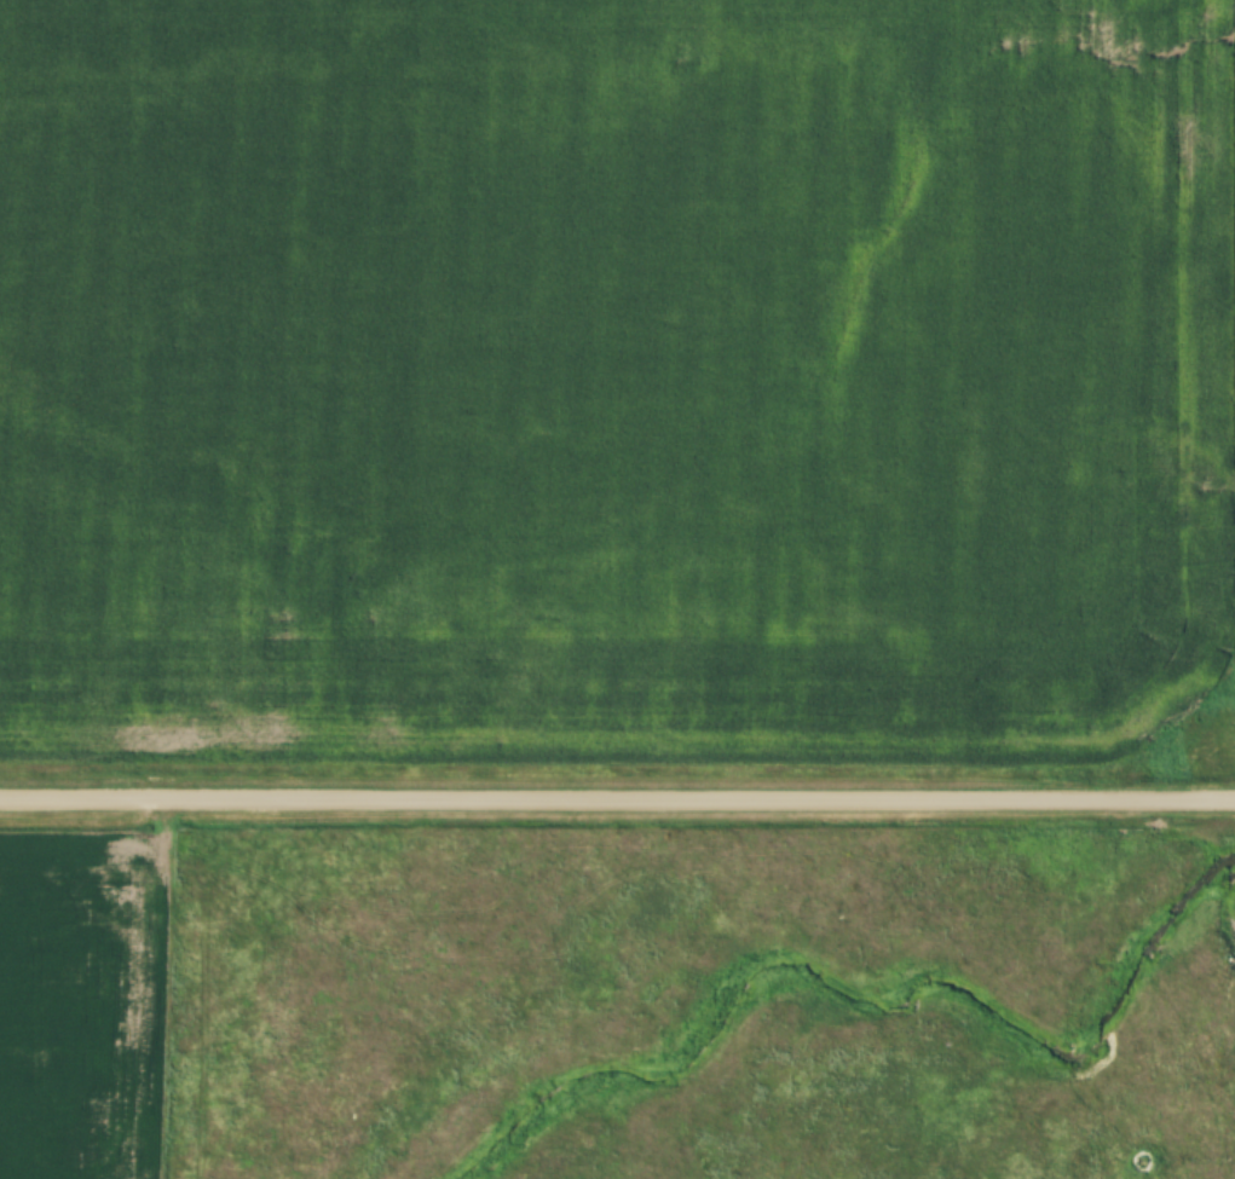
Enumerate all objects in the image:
road: (617, 801)

